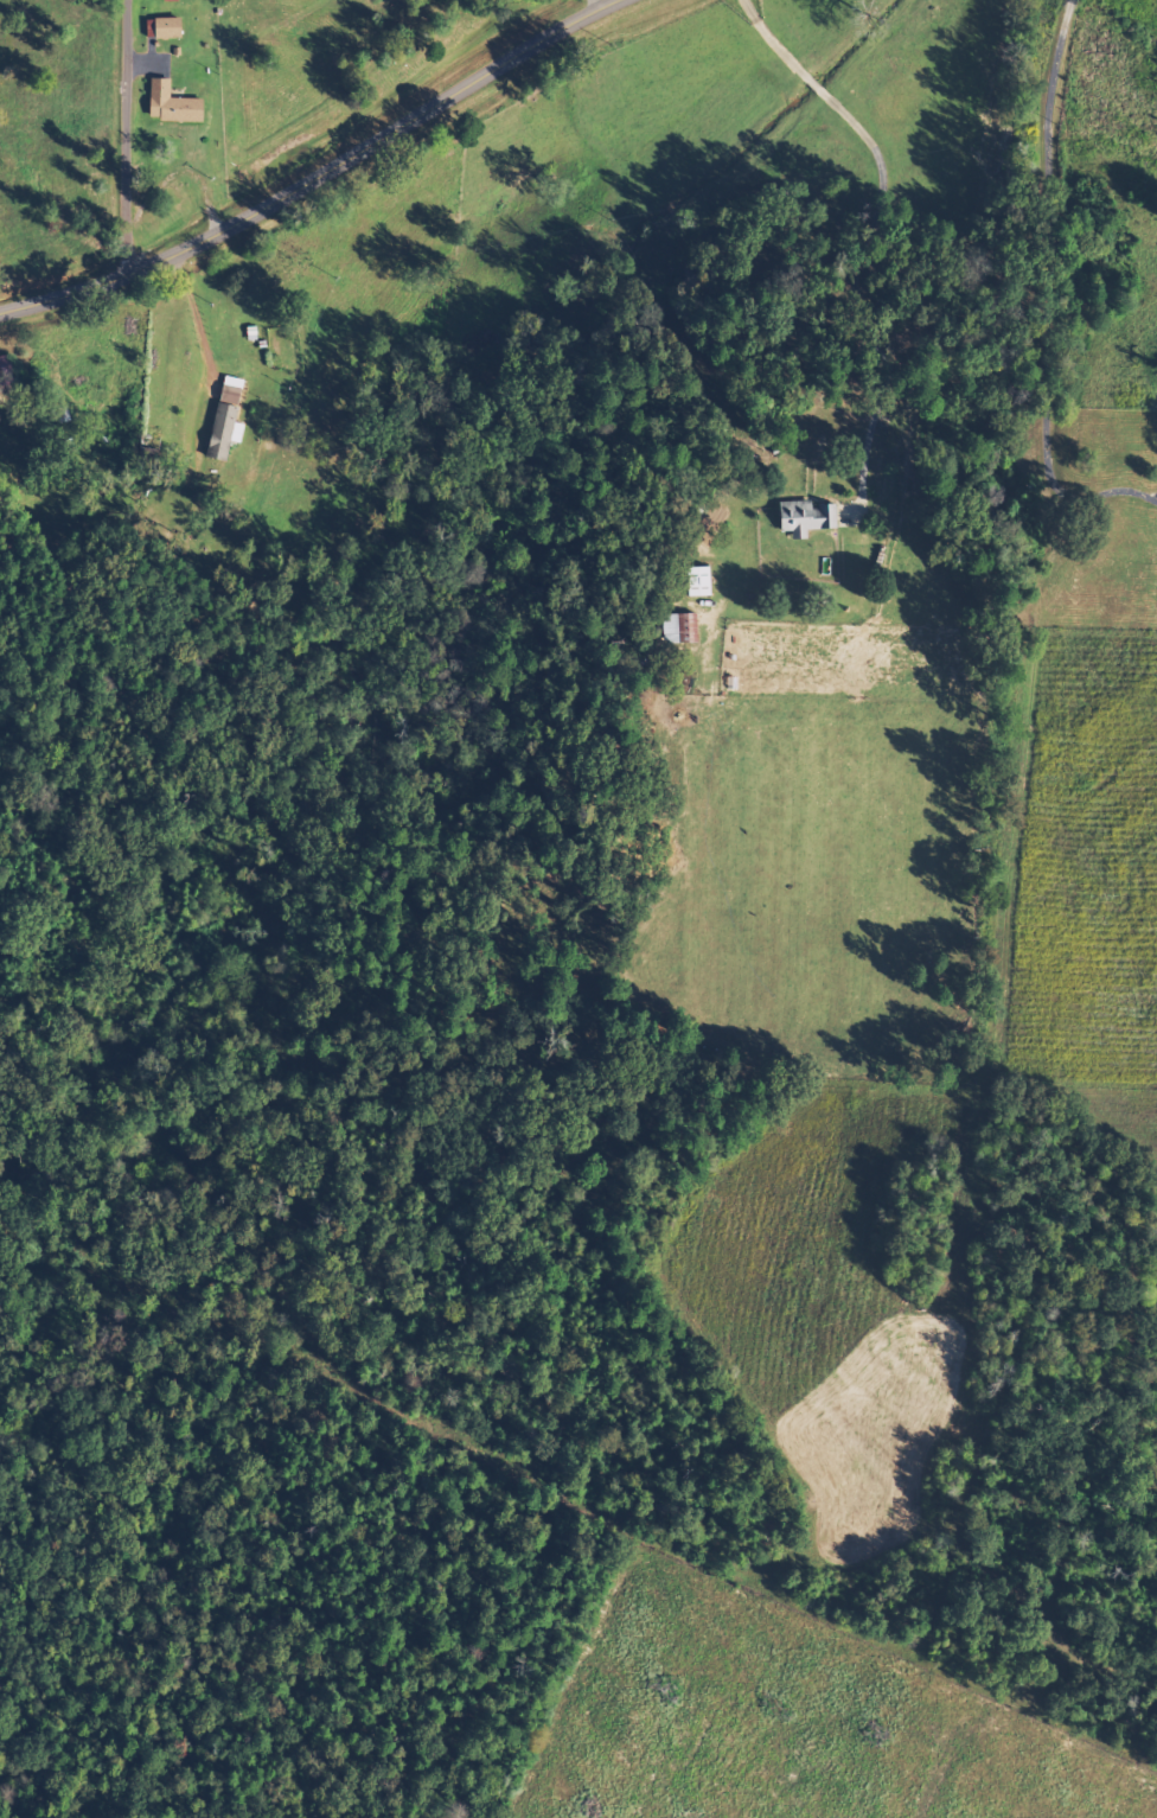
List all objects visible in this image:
building: (164, 28)
building: (172, 106)
road: (124, 139)
road: (320, 177)
road: (203, 313)
road: (1065, 320)
building: (5, 377)
building: (225, 420)
building: (805, 518)
building: (698, 583)
building: (679, 629)

